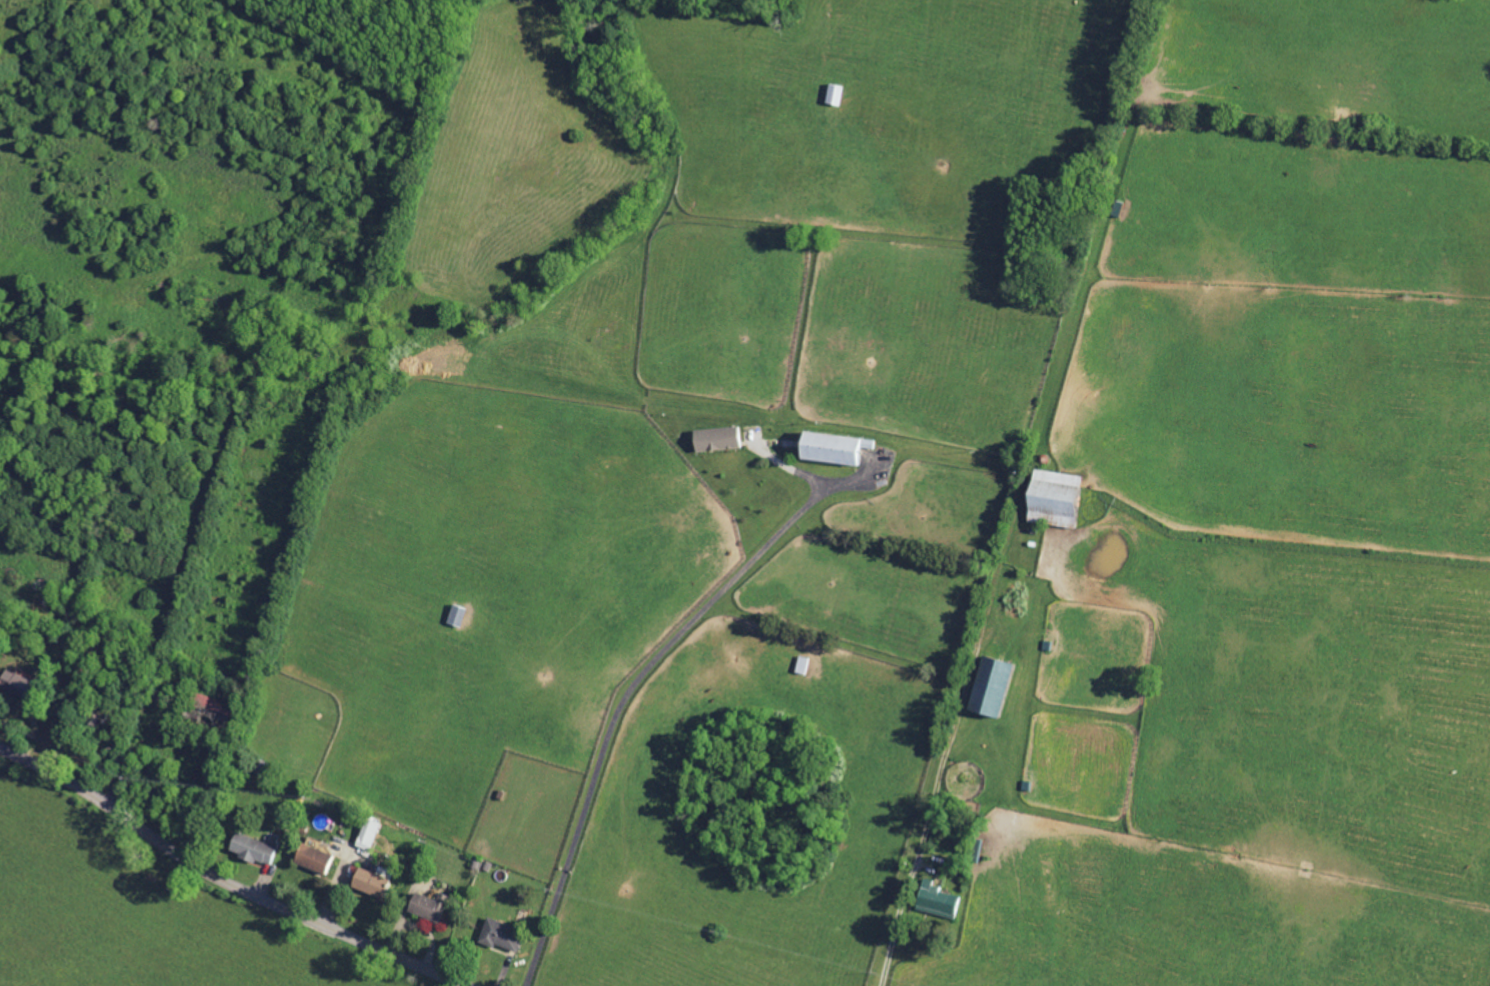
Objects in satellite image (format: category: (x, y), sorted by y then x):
building: (833, 95)
building: (714, 438)
building: (830, 446)
building: (1050, 497)
building: (14, 682)
building: (987, 686)
road: (629, 690)
road: (34, 718)
road: (935, 787)
building: (367, 833)
building: (251, 848)
building: (311, 857)
road: (227, 881)
building: (369, 882)
building: (935, 898)
building: (427, 906)
building: (500, 935)

